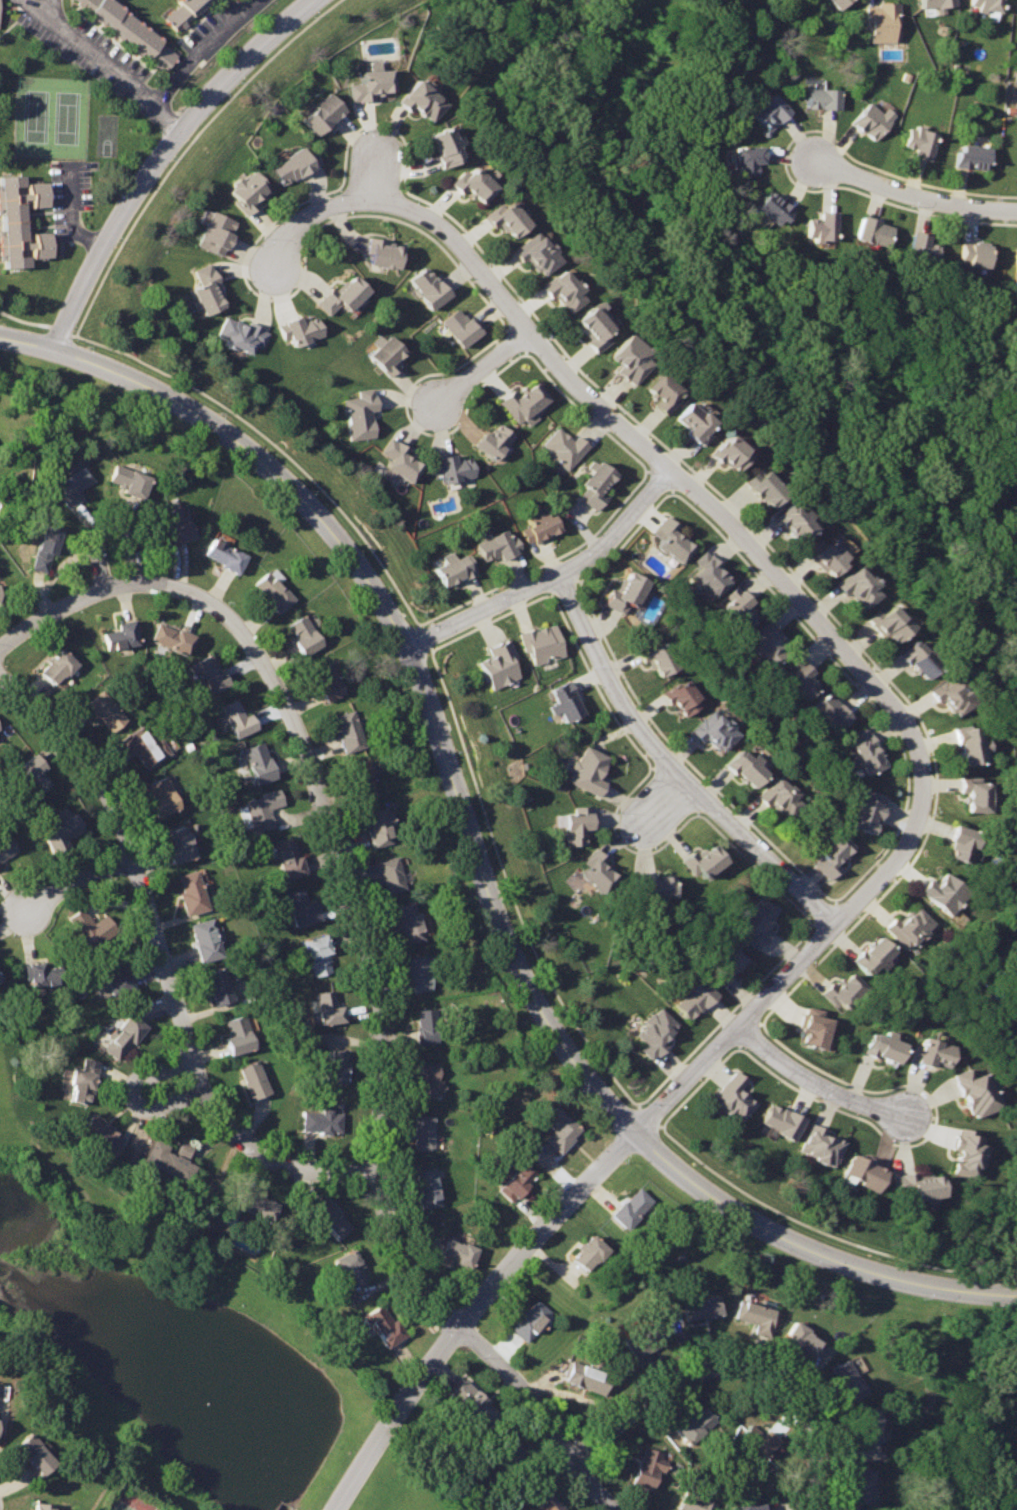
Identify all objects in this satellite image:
road: (47, 2)
building: (838, 2)
building: (939, 4)
building: (986, 7)
building: (185, 12)
building: (882, 20)
building: (133, 32)
road: (202, 46)
road: (115, 60)
building: (369, 84)
building: (823, 97)
building: (423, 98)
building: (771, 111)
building: (322, 114)
park: (51, 117)
building: (875, 119)
building: (922, 140)
building: (448, 146)
road: (165, 156)
building: (973, 157)
building: (749, 158)
building: (291, 166)
road: (378, 176)
building: (475, 183)
building: (248, 193)
road: (913, 195)
building: (775, 207)
road: (70, 218)
building: (507, 218)
building: (20, 222)
building: (822, 225)
building: (872, 230)
building: (218, 233)
building: (921, 247)
building: (383, 252)
building: (974, 252)
building: (539, 253)
building: (1015, 259)
building: (430, 287)
building: (209, 289)
building: (566, 290)
building: (345, 296)
road: (26, 317)
road: (65, 326)
building: (462, 327)
building: (595, 327)
building: (302, 330)
building: (244, 334)
road: (31, 342)
building: (388, 355)
building: (632, 358)
road: (487, 366)
road: (587, 391)
building: (662, 392)
building: (525, 402)
building: (362, 413)
road: (230, 414)
building: (698, 422)
building: (497, 442)
building: (566, 445)
building: (734, 452)
building: (400, 462)
building: (454, 468)
building: (131, 476)
building: (72, 480)
building: (598, 484)
building: (767, 485)
building: (174, 520)
building: (798, 520)
road: (110, 526)
building: (541, 527)
building: (671, 538)
building: (44, 542)
building: (499, 545)
building: (226, 551)
building: (831, 555)
building: (455, 567)
building: (711, 573)
road: (552, 576)
road: (388, 577)
building: (861, 586)
building: (271, 587)
building: (628, 593)
road: (81, 598)
building: (741, 608)
building: (893, 625)
building: (120, 629)
building: (304, 631)
road: (427, 632)
building: (172, 634)
building: (770, 640)
building: (543, 643)
building: (659, 658)
building: (922, 659)
building: (57, 661)
building: (499, 663)
building: (210, 669)
building: (801, 676)
building: (326, 679)
road: (422, 681)
building: (953, 695)
building: (684, 697)
building: (569, 701)
building: (104, 707)
building: (835, 711)
building: (236, 714)
building: (346, 726)
building: (716, 729)
building: (147, 741)
building: (970, 745)
building: (869, 751)
building: (258, 758)
building: (749, 765)
road: (678, 766)
building: (32, 769)
building: (591, 769)
building: (364, 772)
building: (977, 791)
building: (162, 793)
building: (780, 797)
road: (669, 799)
building: (265, 805)
building: (868, 811)
building: (379, 820)
building: (579, 825)
building: (60, 829)
road: (494, 840)
building: (179, 842)
building: (964, 843)
building: (4, 844)
building: (290, 853)
building: (833, 854)
building: (705, 861)
building: (390, 867)
building: (600, 872)
road: (76, 880)
building: (655, 885)
building: (190, 888)
building: (945, 892)
building: (299, 904)
building: (408, 919)
building: (758, 921)
building: (91, 922)
building: (909, 928)
road: (834, 931)
road: (359, 937)
building: (205, 938)
building: (315, 950)
building: (874, 957)
road: (163, 960)
building: (728, 964)
building: (42, 967)
building: (417, 967)
building: (1, 972)
building: (115, 974)
building: (218, 981)
building: (843, 990)
building: (693, 999)
building: (326, 1005)
building: (428, 1022)
building: (815, 1026)
building: (237, 1028)
building: (126, 1032)
building: (655, 1033)
building: (885, 1047)
building: (933, 1053)
building: (333, 1063)
road: (605, 1066)
building: (427, 1074)
building: (255, 1075)
building: (81, 1077)
road: (821, 1083)
building: (978, 1092)
road: (134, 1096)
building: (733, 1096)
road: (648, 1111)
building: (319, 1115)
building: (783, 1121)
building: (423, 1126)
building: (98, 1130)
building: (562, 1130)
road: (687, 1146)
building: (823, 1146)
building: (969, 1150)
building: (167, 1157)
building: (866, 1171)
building: (426, 1182)
building: (518, 1182)
building: (920, 1185)
building: (255, 1199)
road: (788, 1207)
building: (632, 1208)
building: (329, 1215)
building: (456, 1247)
road: (810, 1249)
building: (589, 1253)
road: (939, 1257)
building: (349, 1264)
building: (703, 1309)
road: (469, 1310)
building: (757, 1316)
building: (531, 1319)
building: (382, 1321)
building: (646, 1339)
building: (805, 1342)
road: (734, 1366)
building: (586, 1377)
building: (848, 1380)
building: (473, 1401)
road: (542, 1411)
building: (695, 1424)
building: (869, 1425)
building: (759, 1439)
building: (507, 1442)
building: (34, 1454)
building: (649, 1467)
building: (863, 1485)
building: (544, 1495)
park: (128, 1501)
building: (696, 1502)
building: (41, 1506)
building: (748, 1506)

